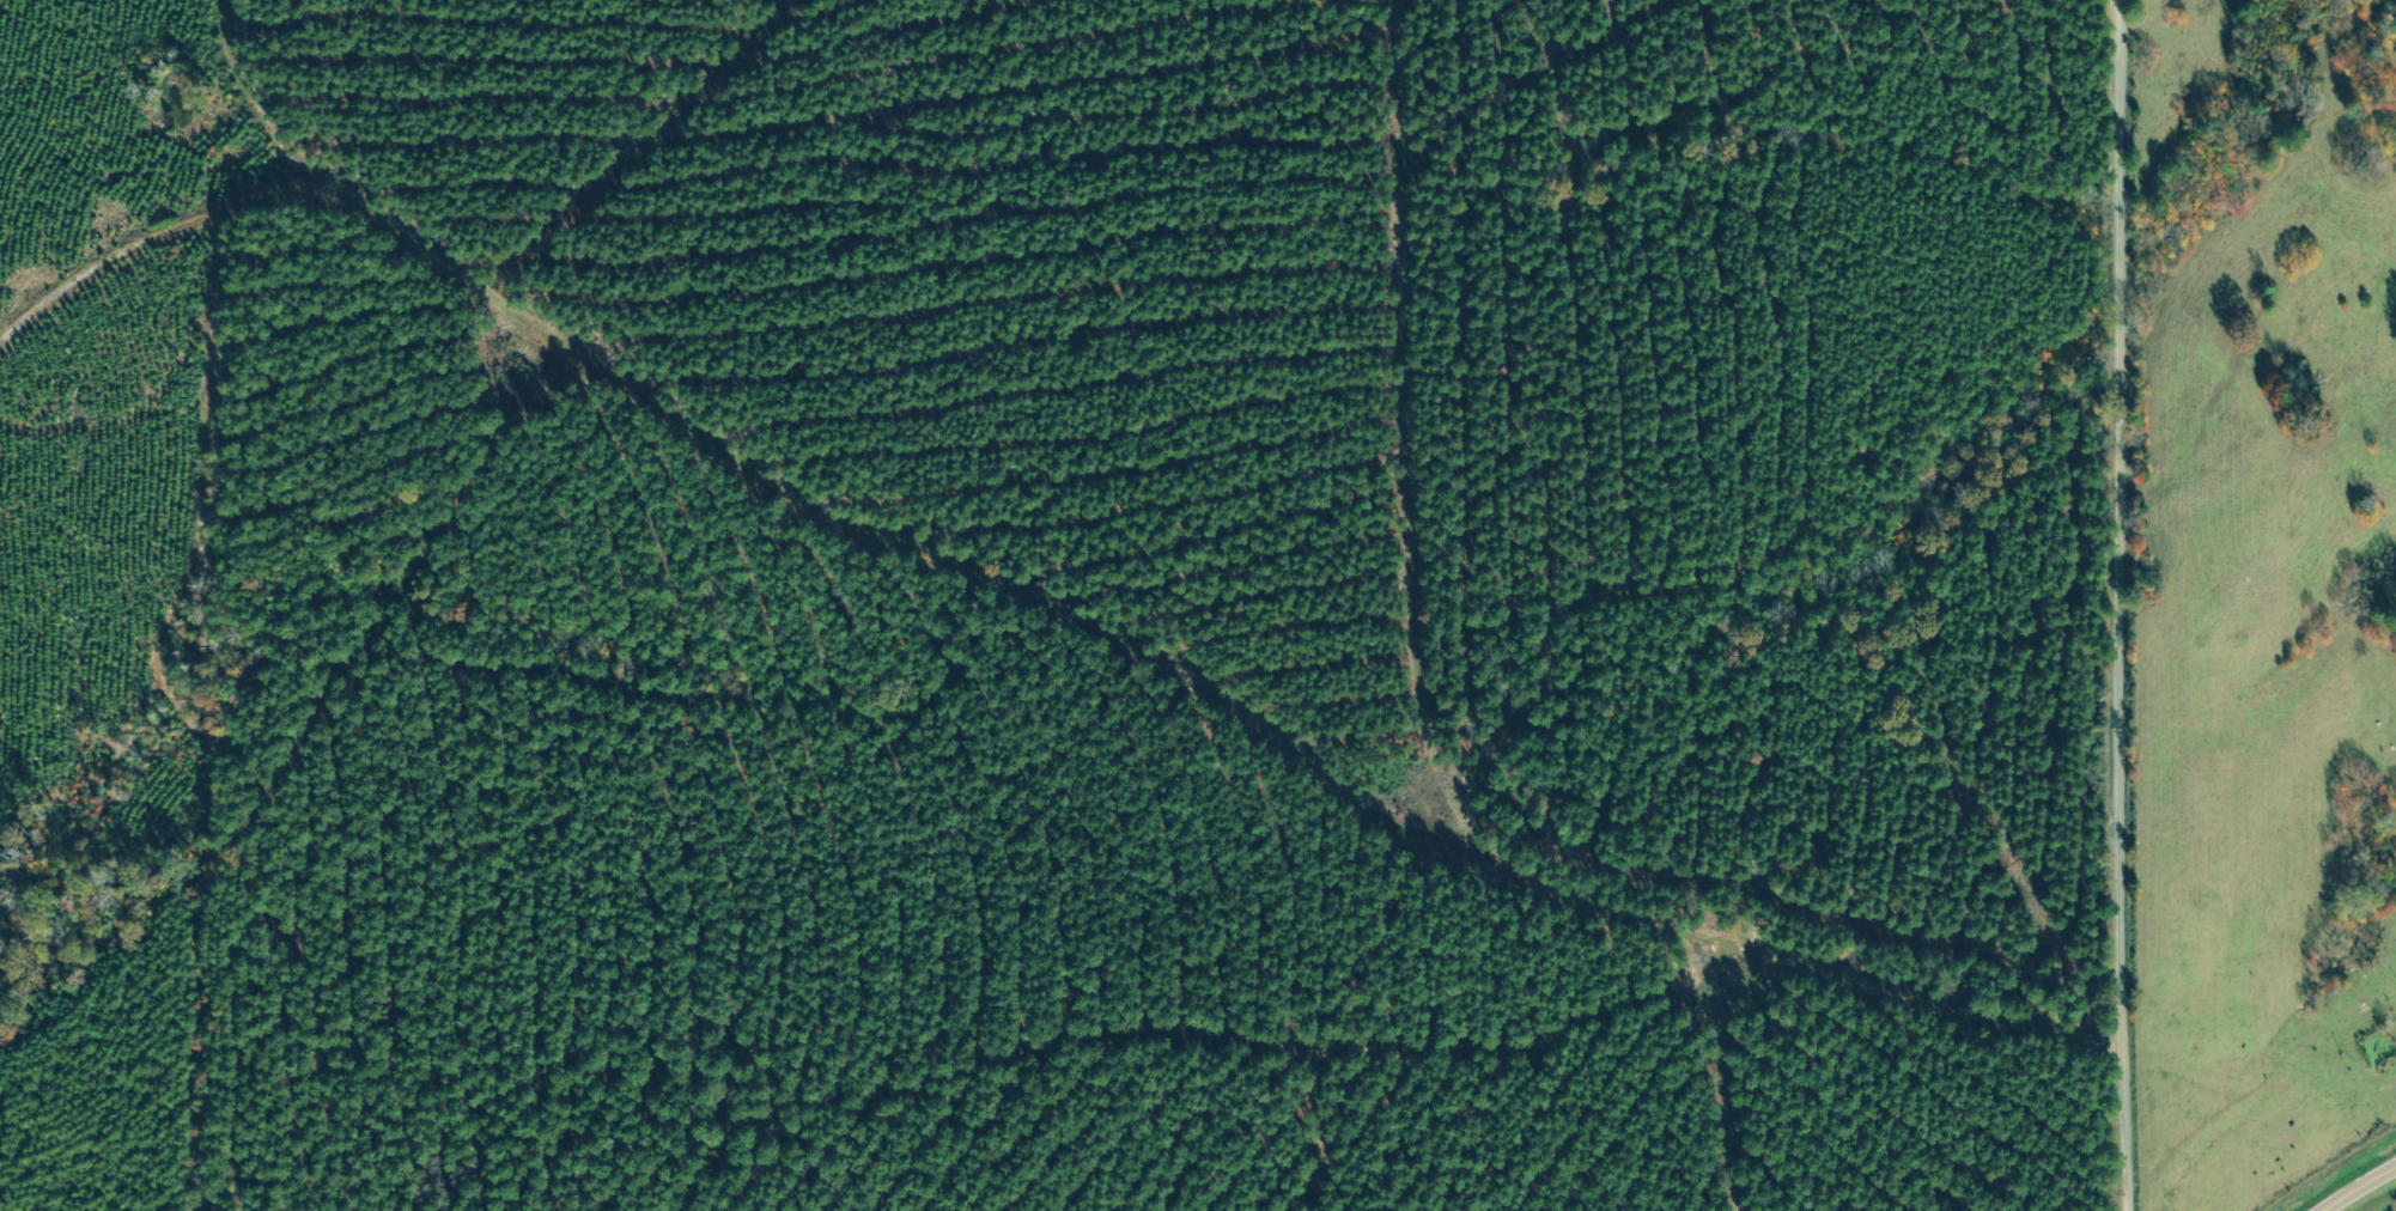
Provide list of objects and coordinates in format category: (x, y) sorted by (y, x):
road: (2116, 602)
road: (2357, 1183)

